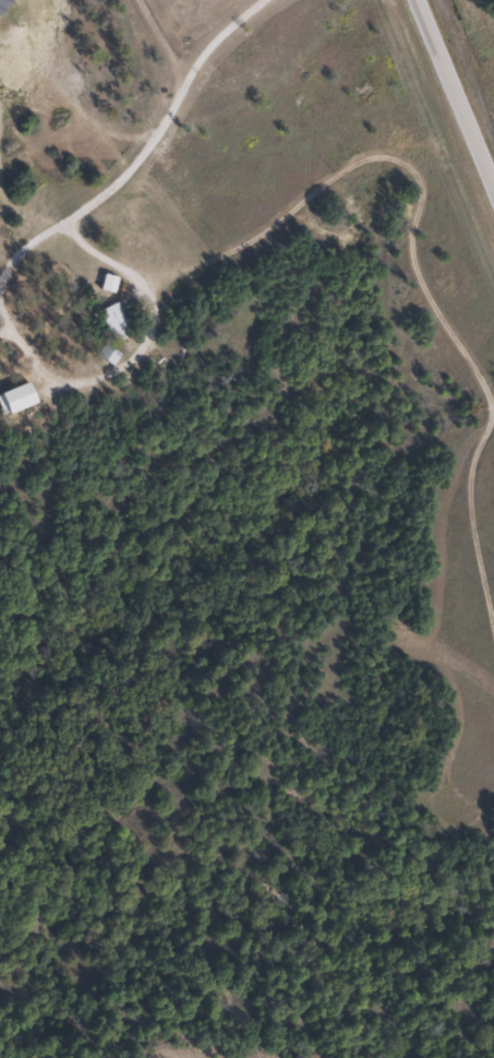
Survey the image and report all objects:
road: (454, 95)
building: (115, 321)
building: (108, 353)

